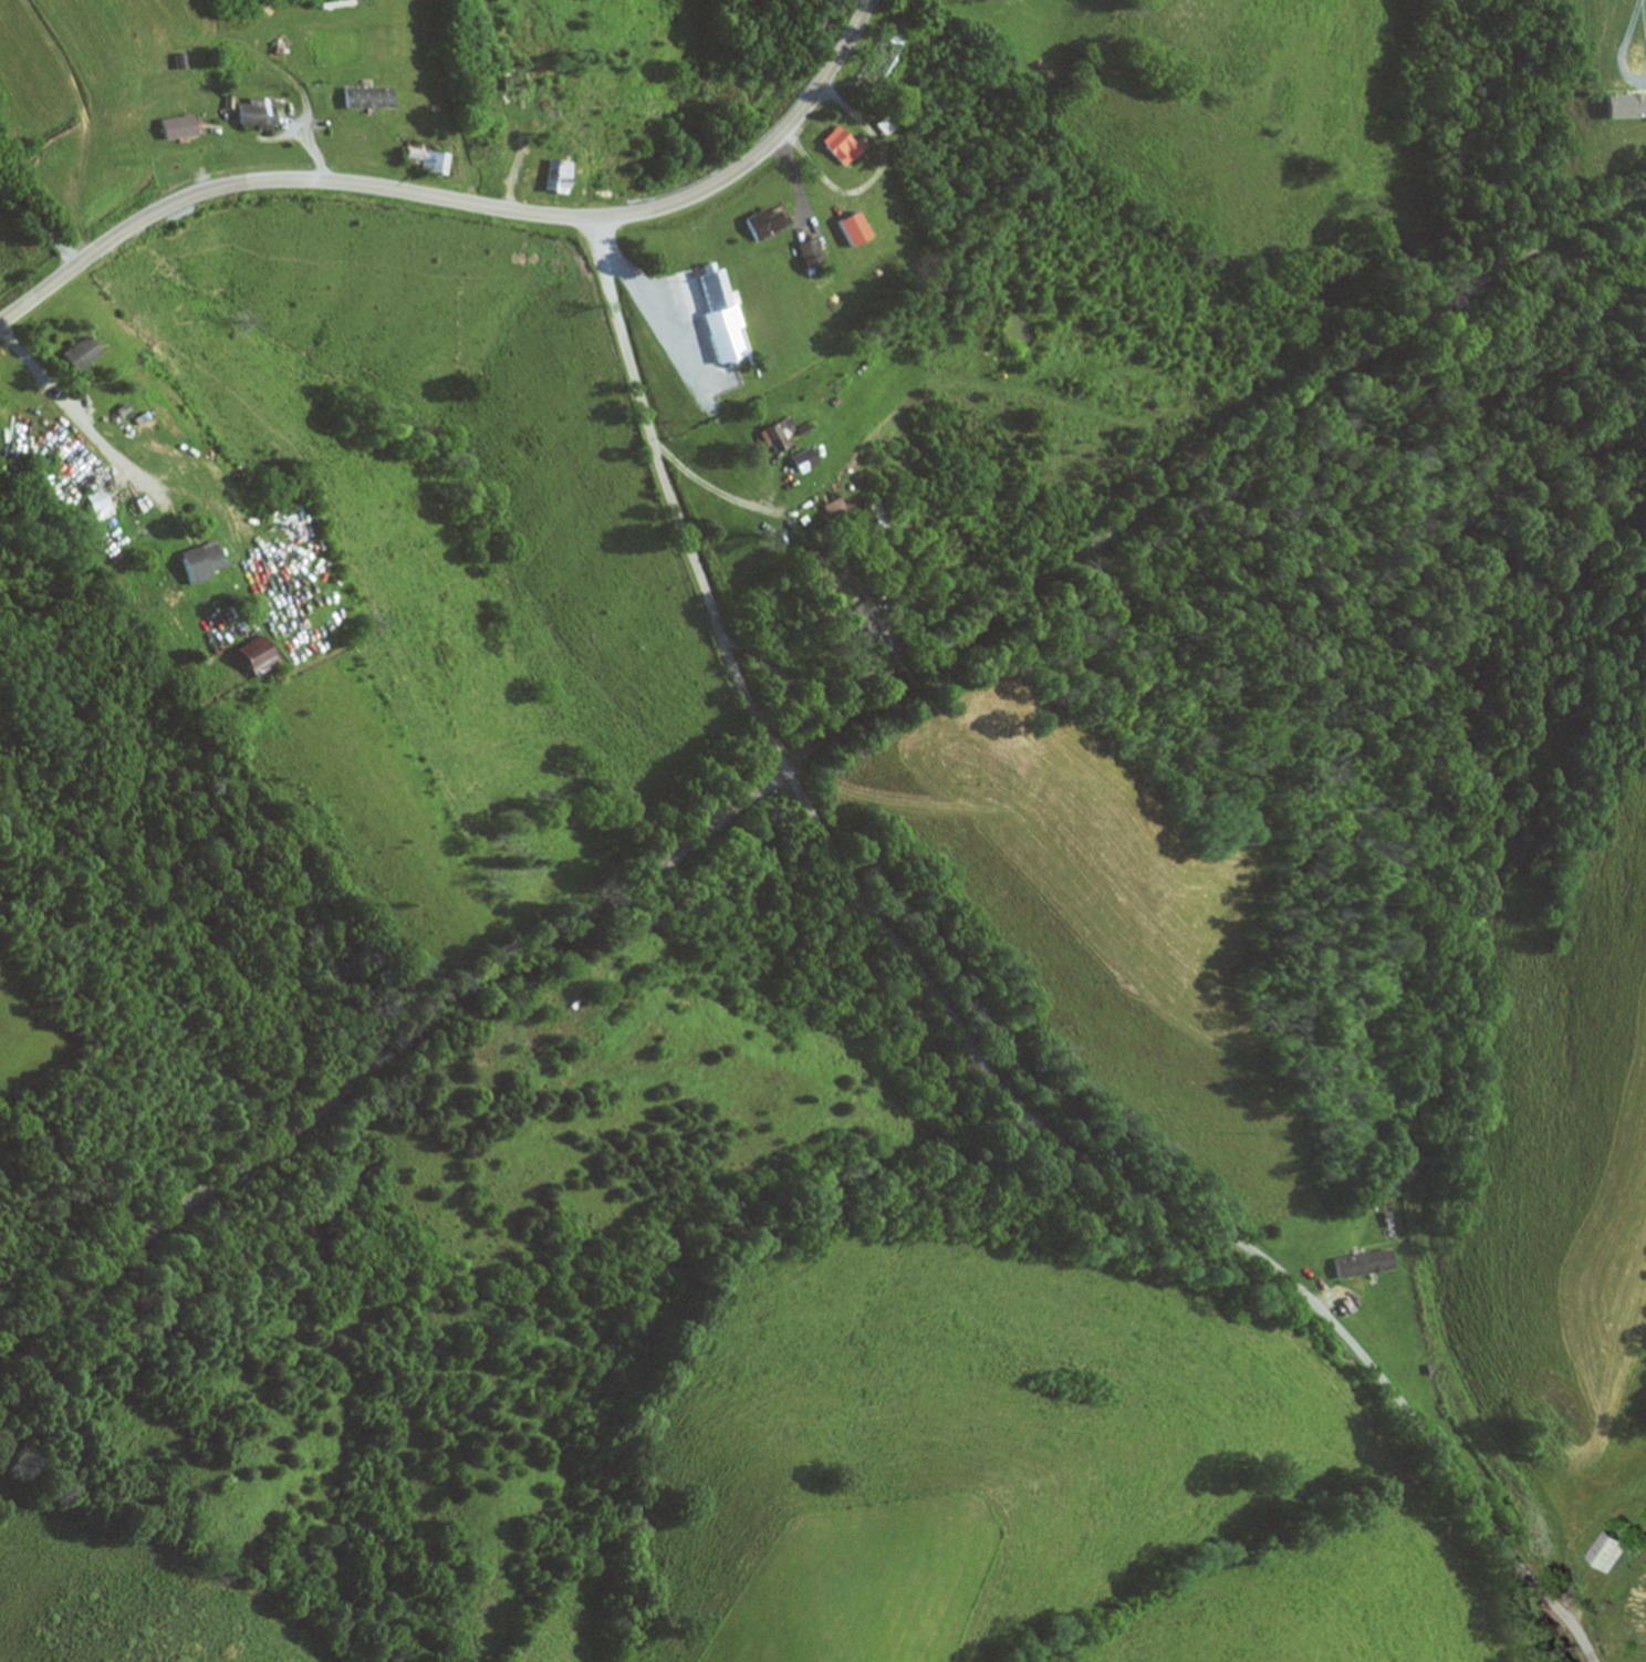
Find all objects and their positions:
building: (817, 21)
building: (898, 42)
building: (509, 80)
building: (373, 98)
building: (260, 117)
building: (487, 127)
building: (183, 128)
building: (842, 146)
building: (429, 160)
building: (558, 177)
road: (460, 202)
building: (765, 225)
building: (856, 230)
building: (812, 256)
building: (721, 302)
building: (37, 424)
building: (782, 435)
building: (808, 460)
building: (104, 503)
building: (837, 510)
building: (207, 561)
building: (869, 622)
building: (263, 655)
railway: (813, 749)
road: (960, 1032)
building: (1366, 1263)
building: (1611, 1550)

